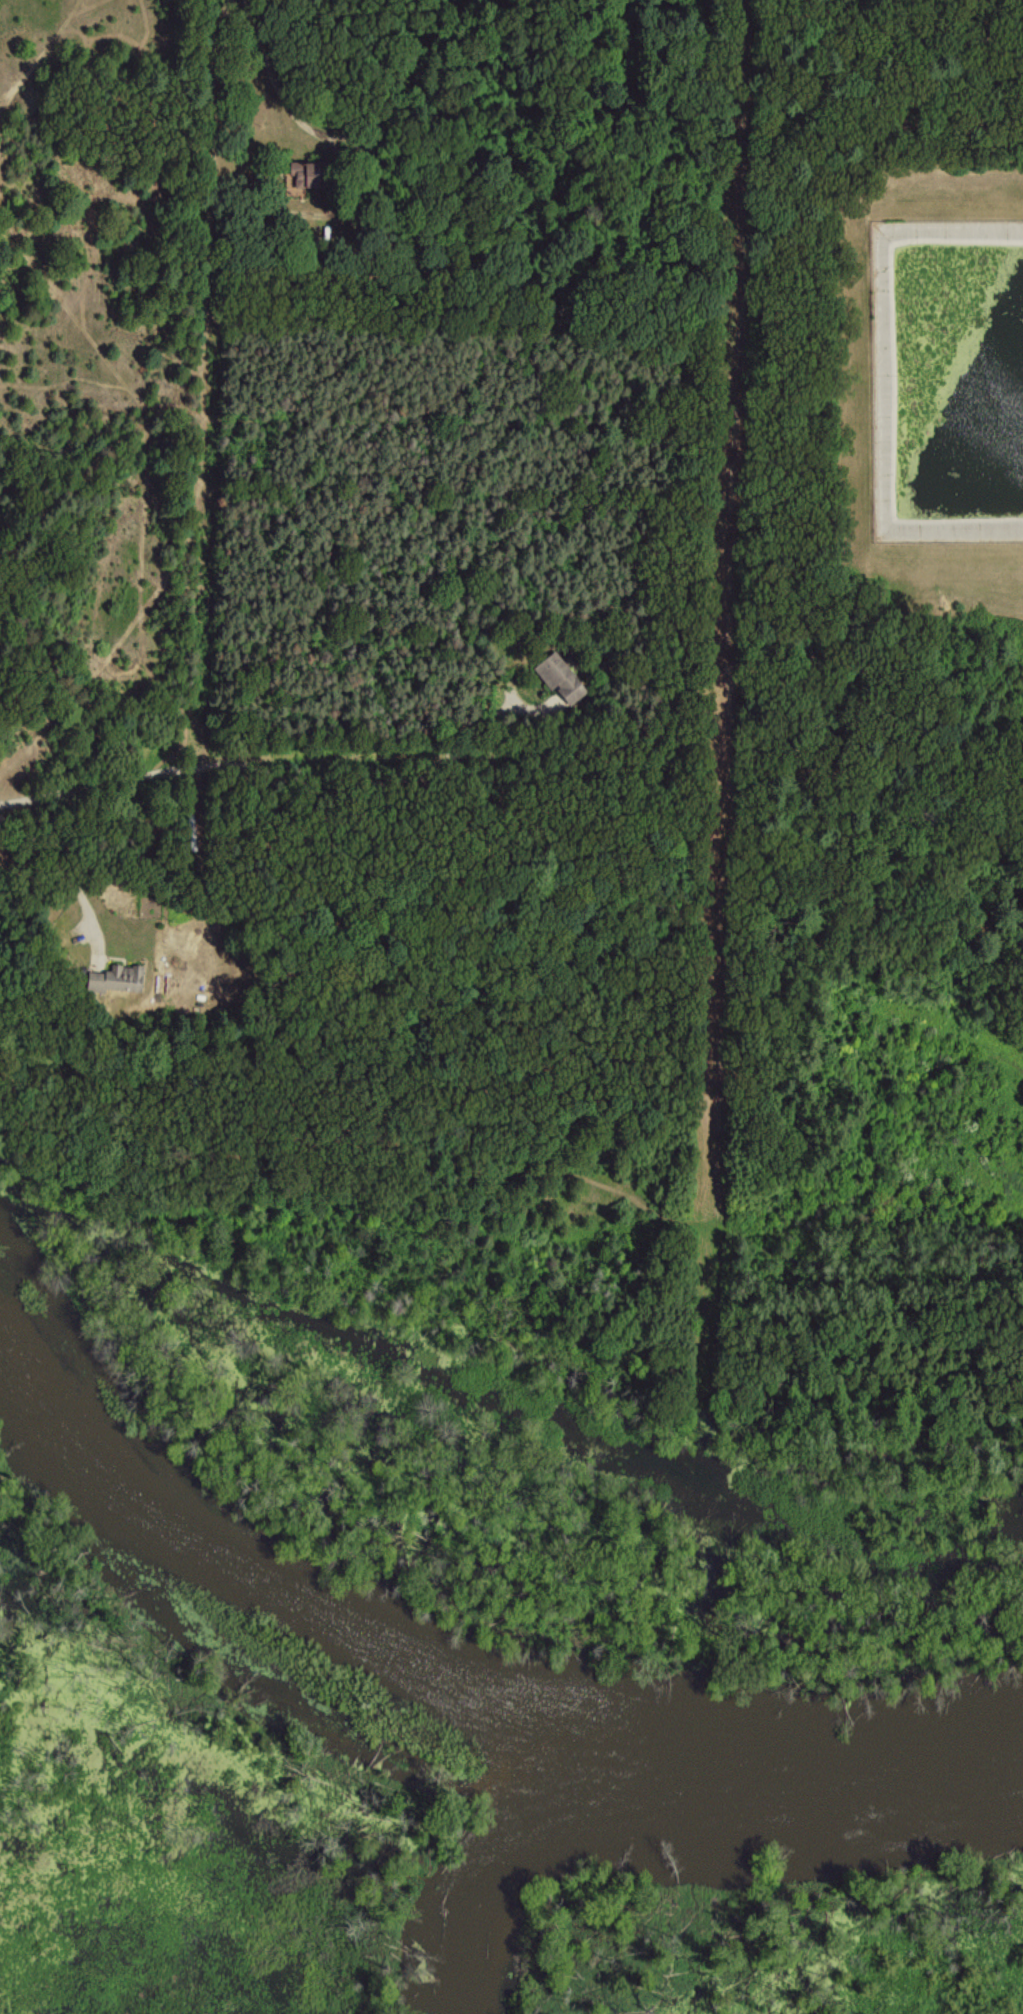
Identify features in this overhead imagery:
road: (277, 82)
wastewater plant: (939, 413)
building: (558, 679)
road: (484, 731)
road: (215, 764)
road: (55, 861)
building: (113, 979)
river: (444, 1713)

